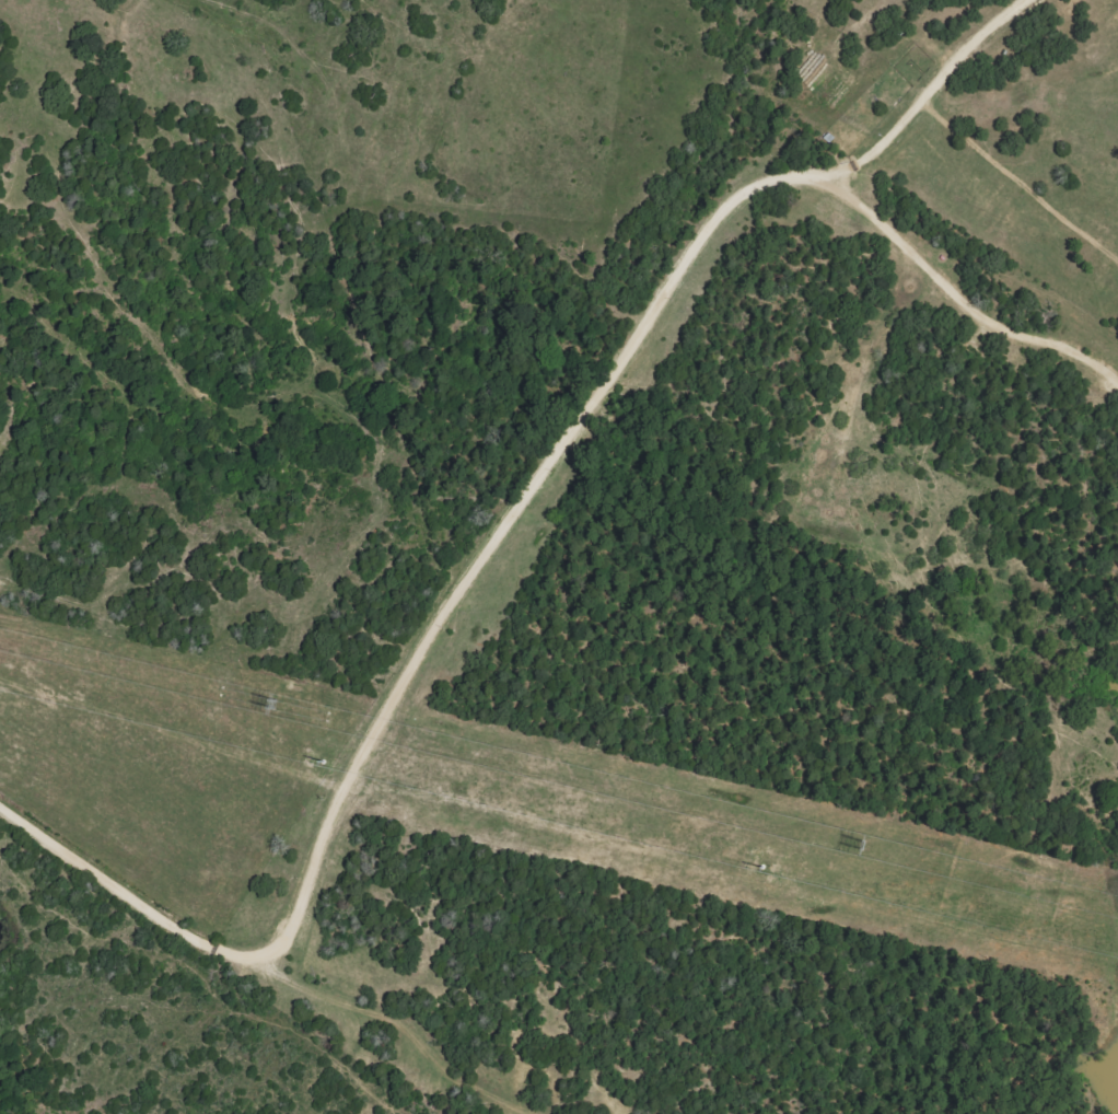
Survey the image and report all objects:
road: (955, 282)
road: (196, 473)
road: (488, 539)
power tower: (272, 706)
power tower: (319, 768)
power tower: (864, 848)
power tower: (762, 875)
road: (408, 1022)

